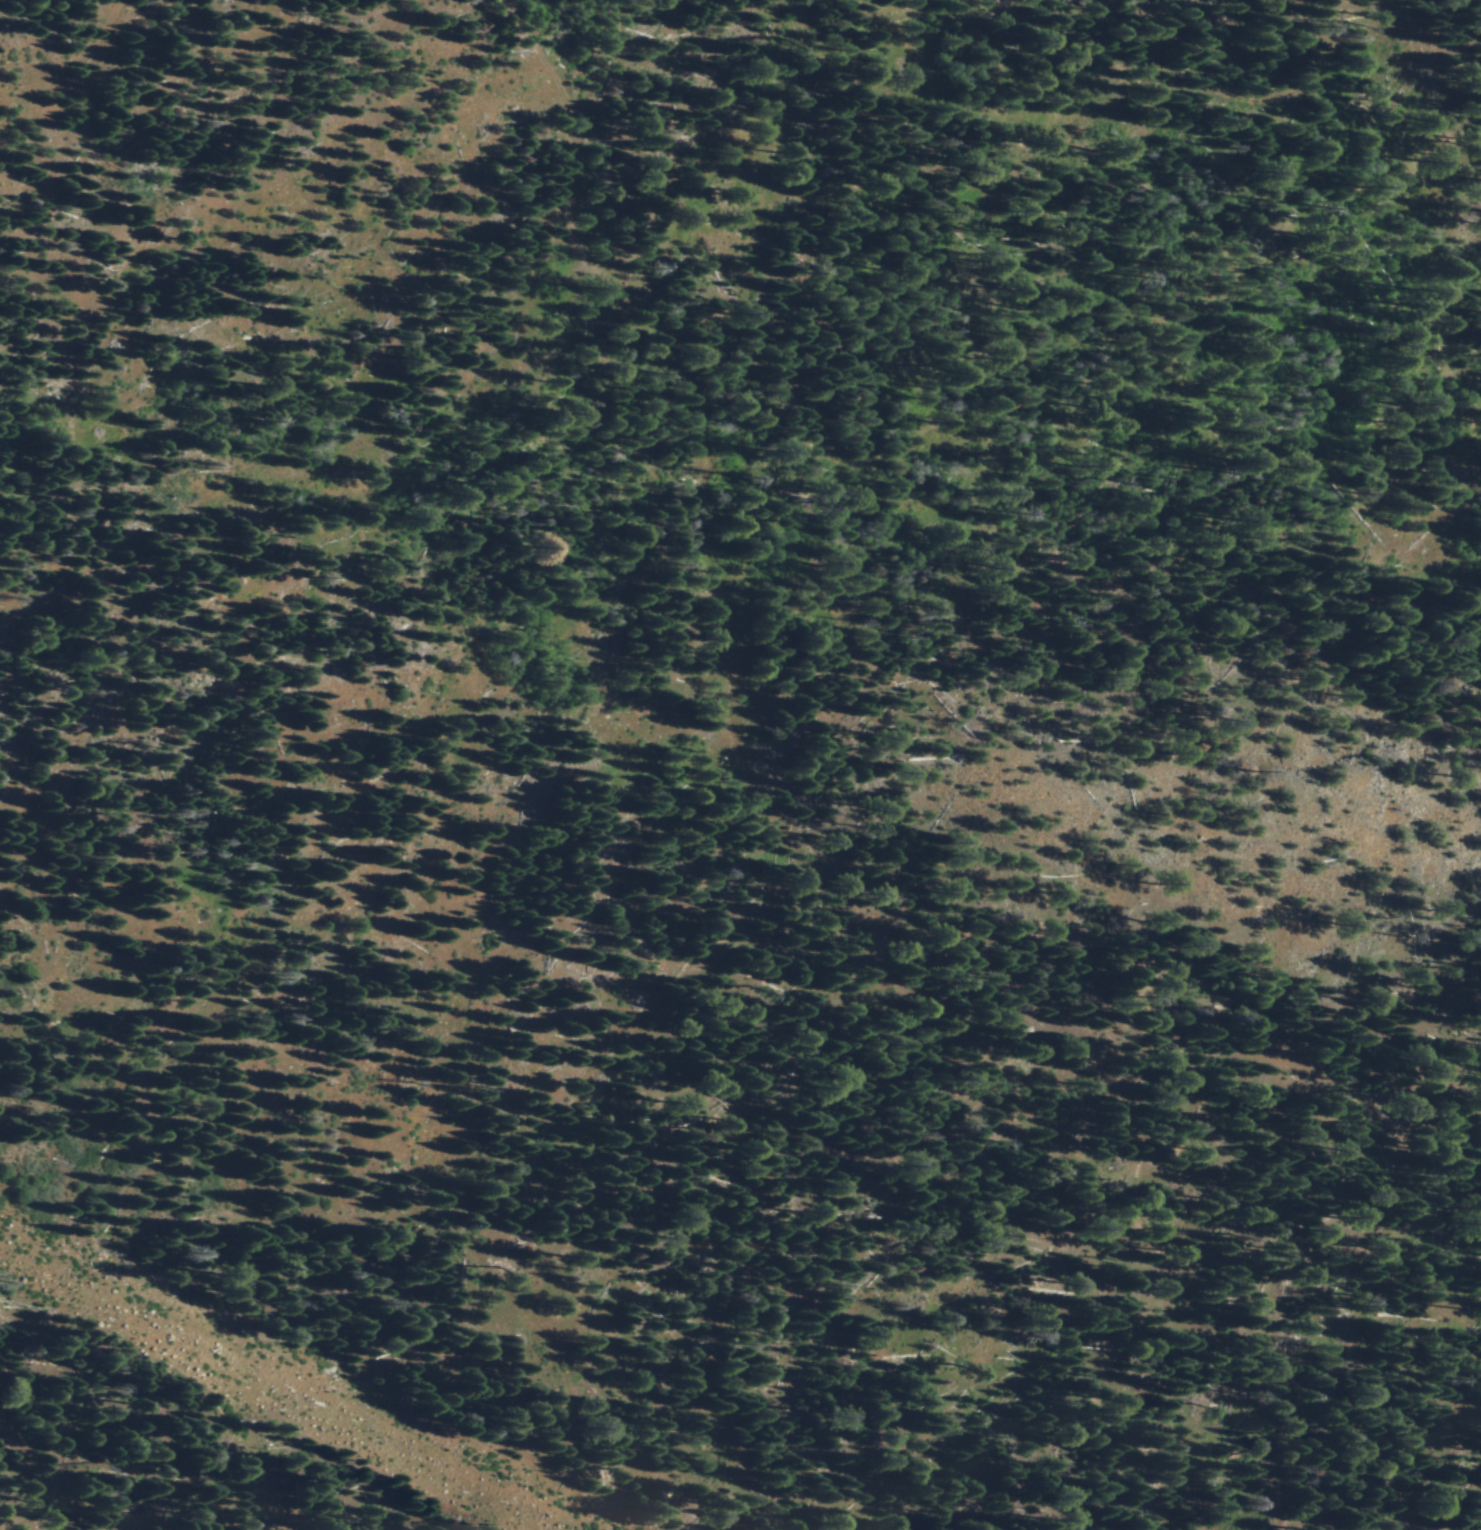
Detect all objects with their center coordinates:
road: (1008, 45)
road: (845, 83)

